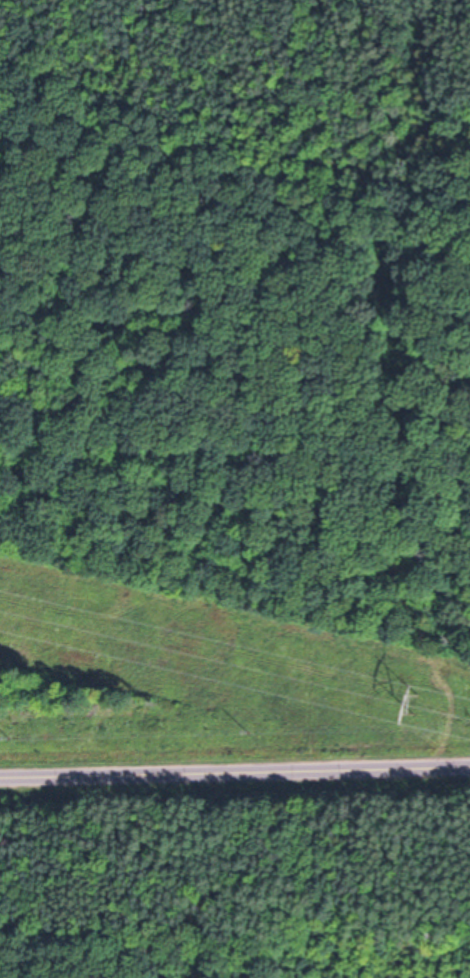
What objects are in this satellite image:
power tower: (418, 705)
road: (235, 777)

